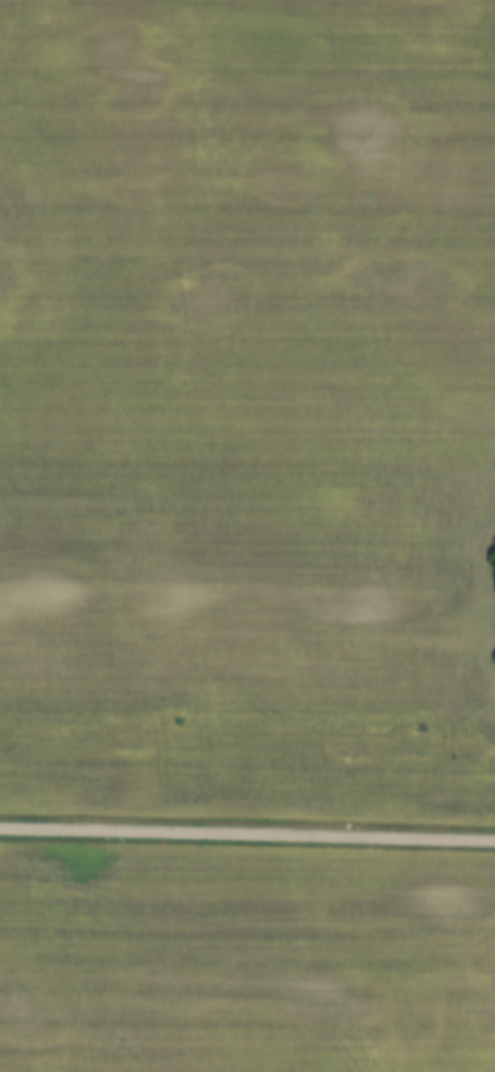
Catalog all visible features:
road: (247, 837)

